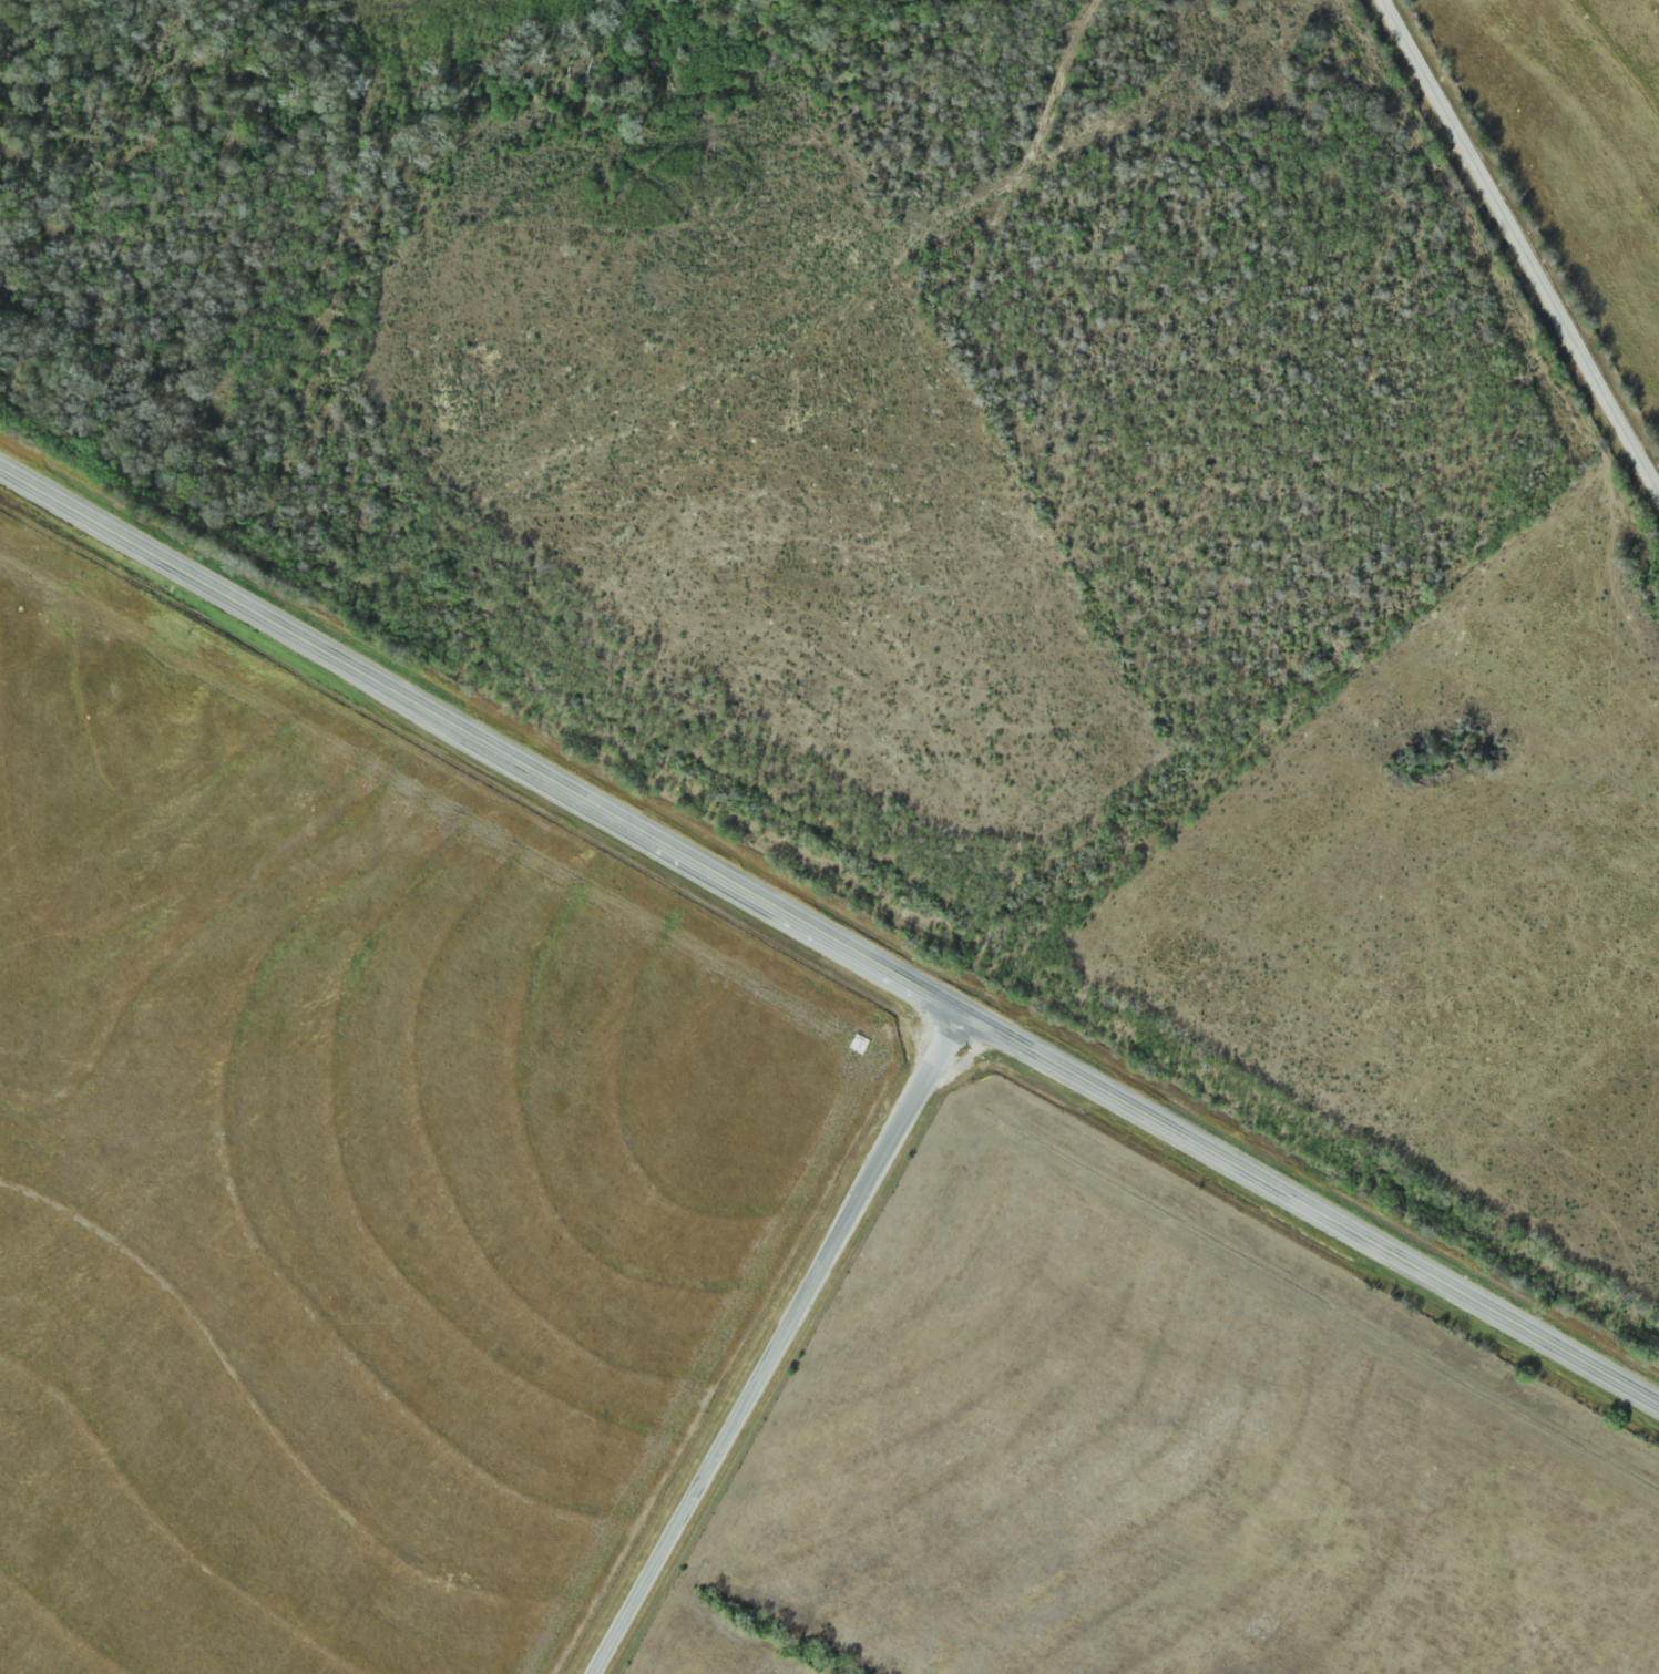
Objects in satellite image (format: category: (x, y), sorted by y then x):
road: (1523, 240)
road: (482, 744)
road: (1311, 1208)
road: (780, 1344)

